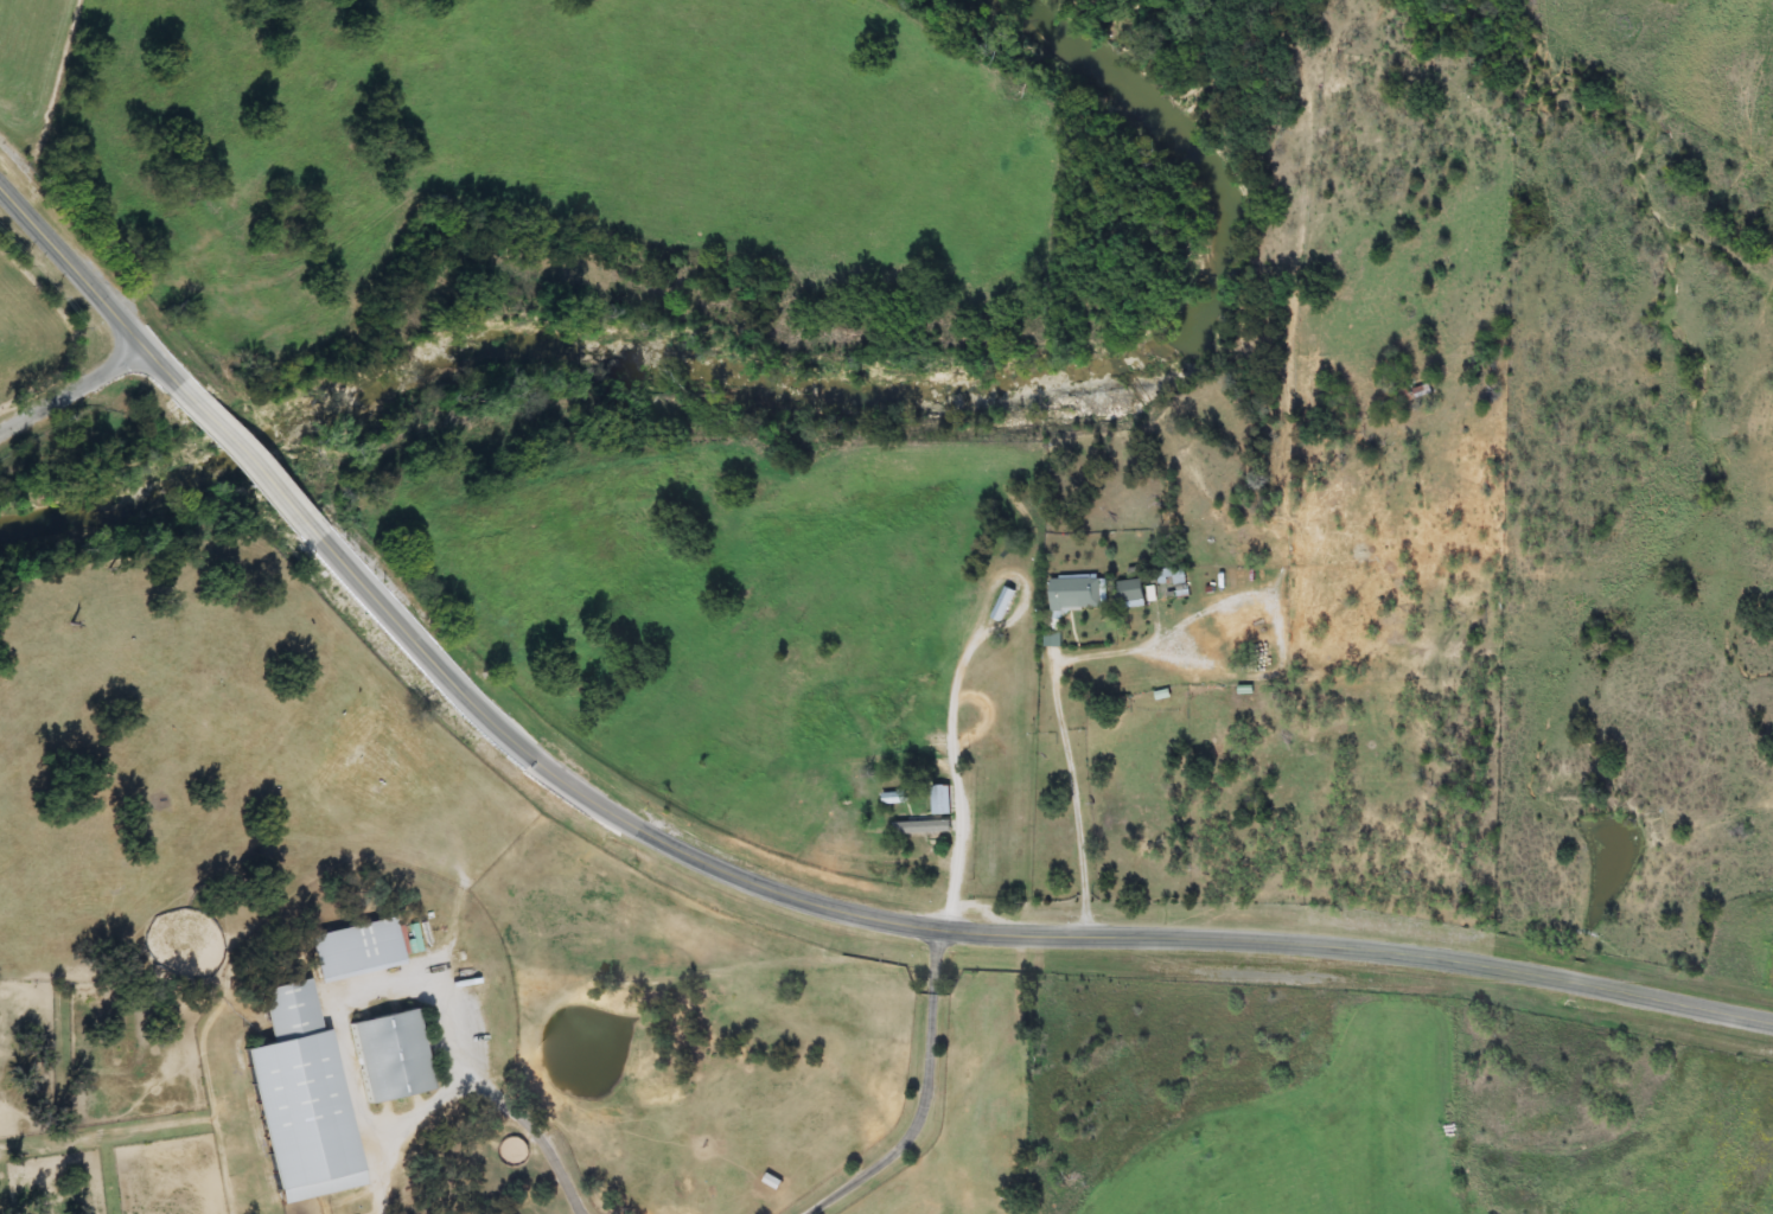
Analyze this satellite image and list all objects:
road: (88, 286)
crop: (40, 320)
building: (1415, 392)
road: (72, 394)
road: (250, 462)
building: (1176, 577)
building: (1080, 594)
road: (1071, 777)
road: (956, 782)
building: (895, 799)
building: (942, 800)
building: (925, 829)
road: (984, 931)
crop: (417, 943)
building: (357, 951)
building: (394, 1055)
building: (305, 1098)
road: (930, 1098)
road: (541, 1129)

